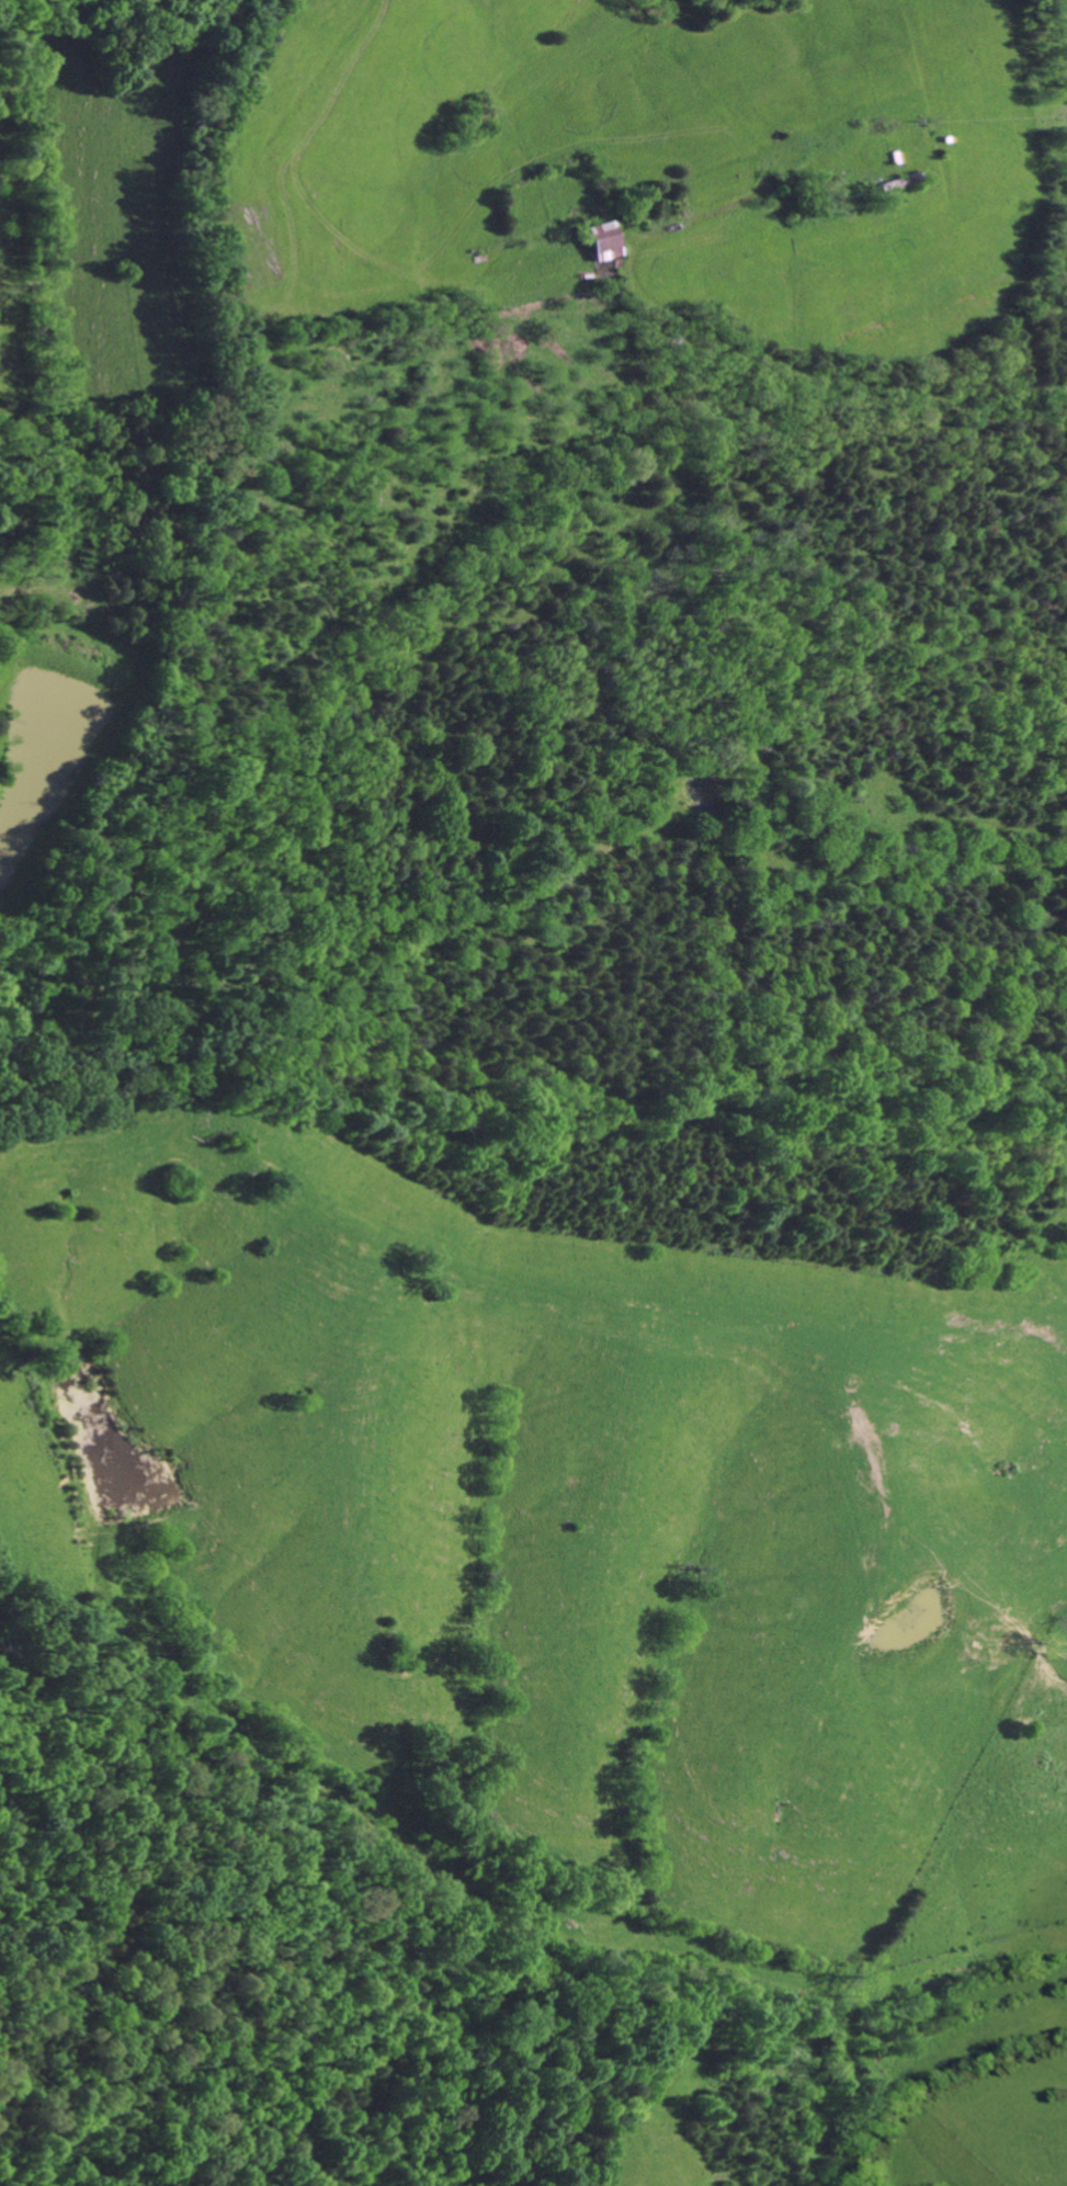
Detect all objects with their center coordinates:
road: (236, 152)
road: (492, 234)
building: (609, 243)
road: (611, 273)
road: (357, 275)
road: (785, 281)
road: (1022, 351)

